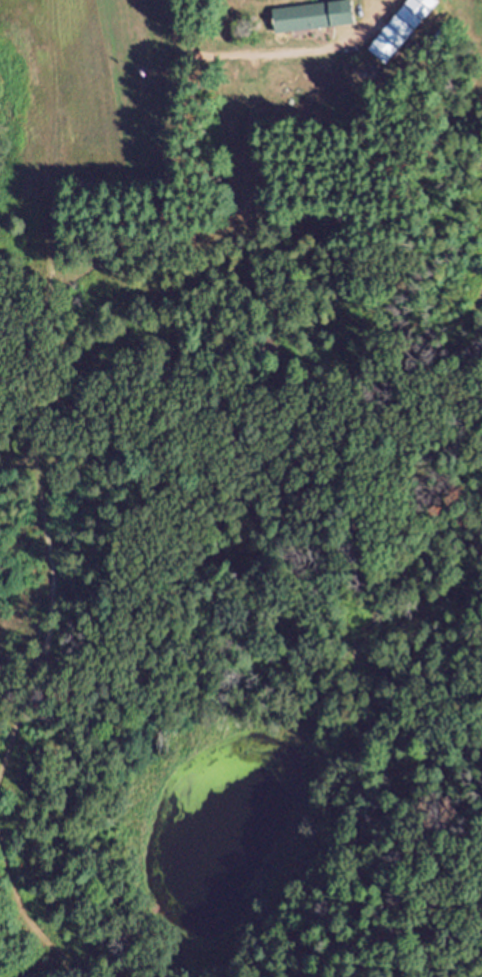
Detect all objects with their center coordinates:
building: (316, 23)
building: (405, 29)
road: (187, 65)

